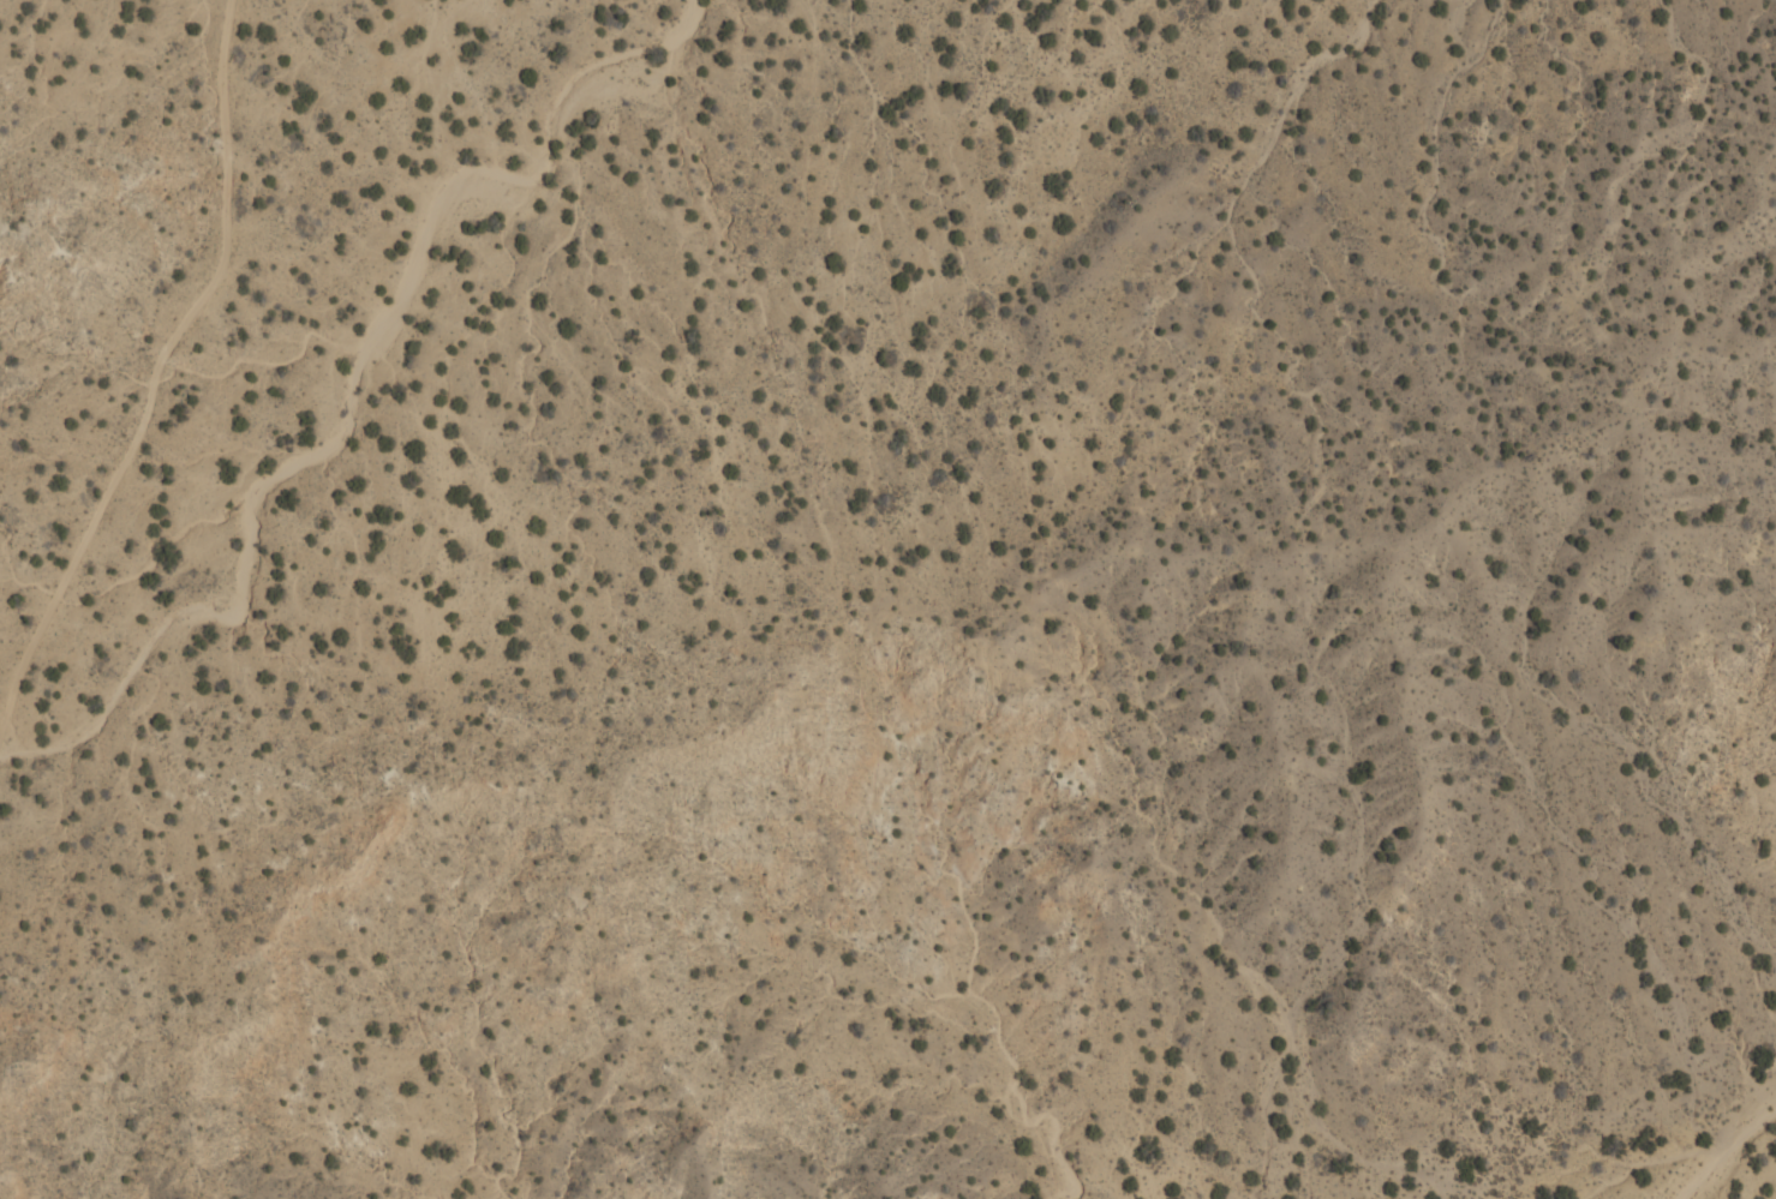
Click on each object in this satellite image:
road: (157, 371)

